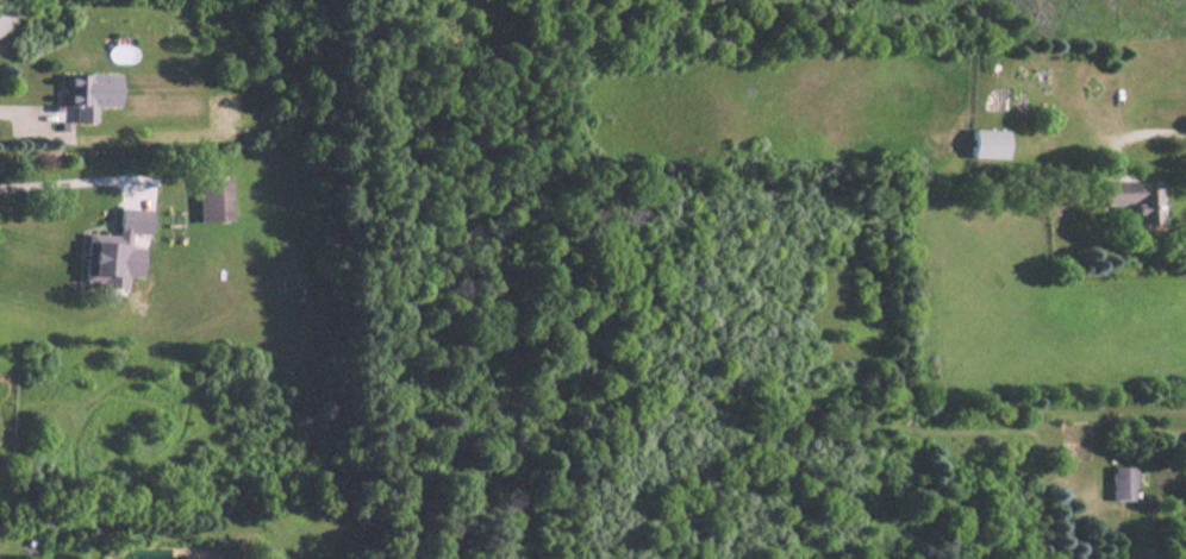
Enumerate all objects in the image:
road: (6, 4)
building: (88, 94)
road: (1153, 131)
building: (988, 145)
road: (68, 177)
building: (212, 200)
building: (1136, 203)
building: (114, 252)
building: (1124, 482)

